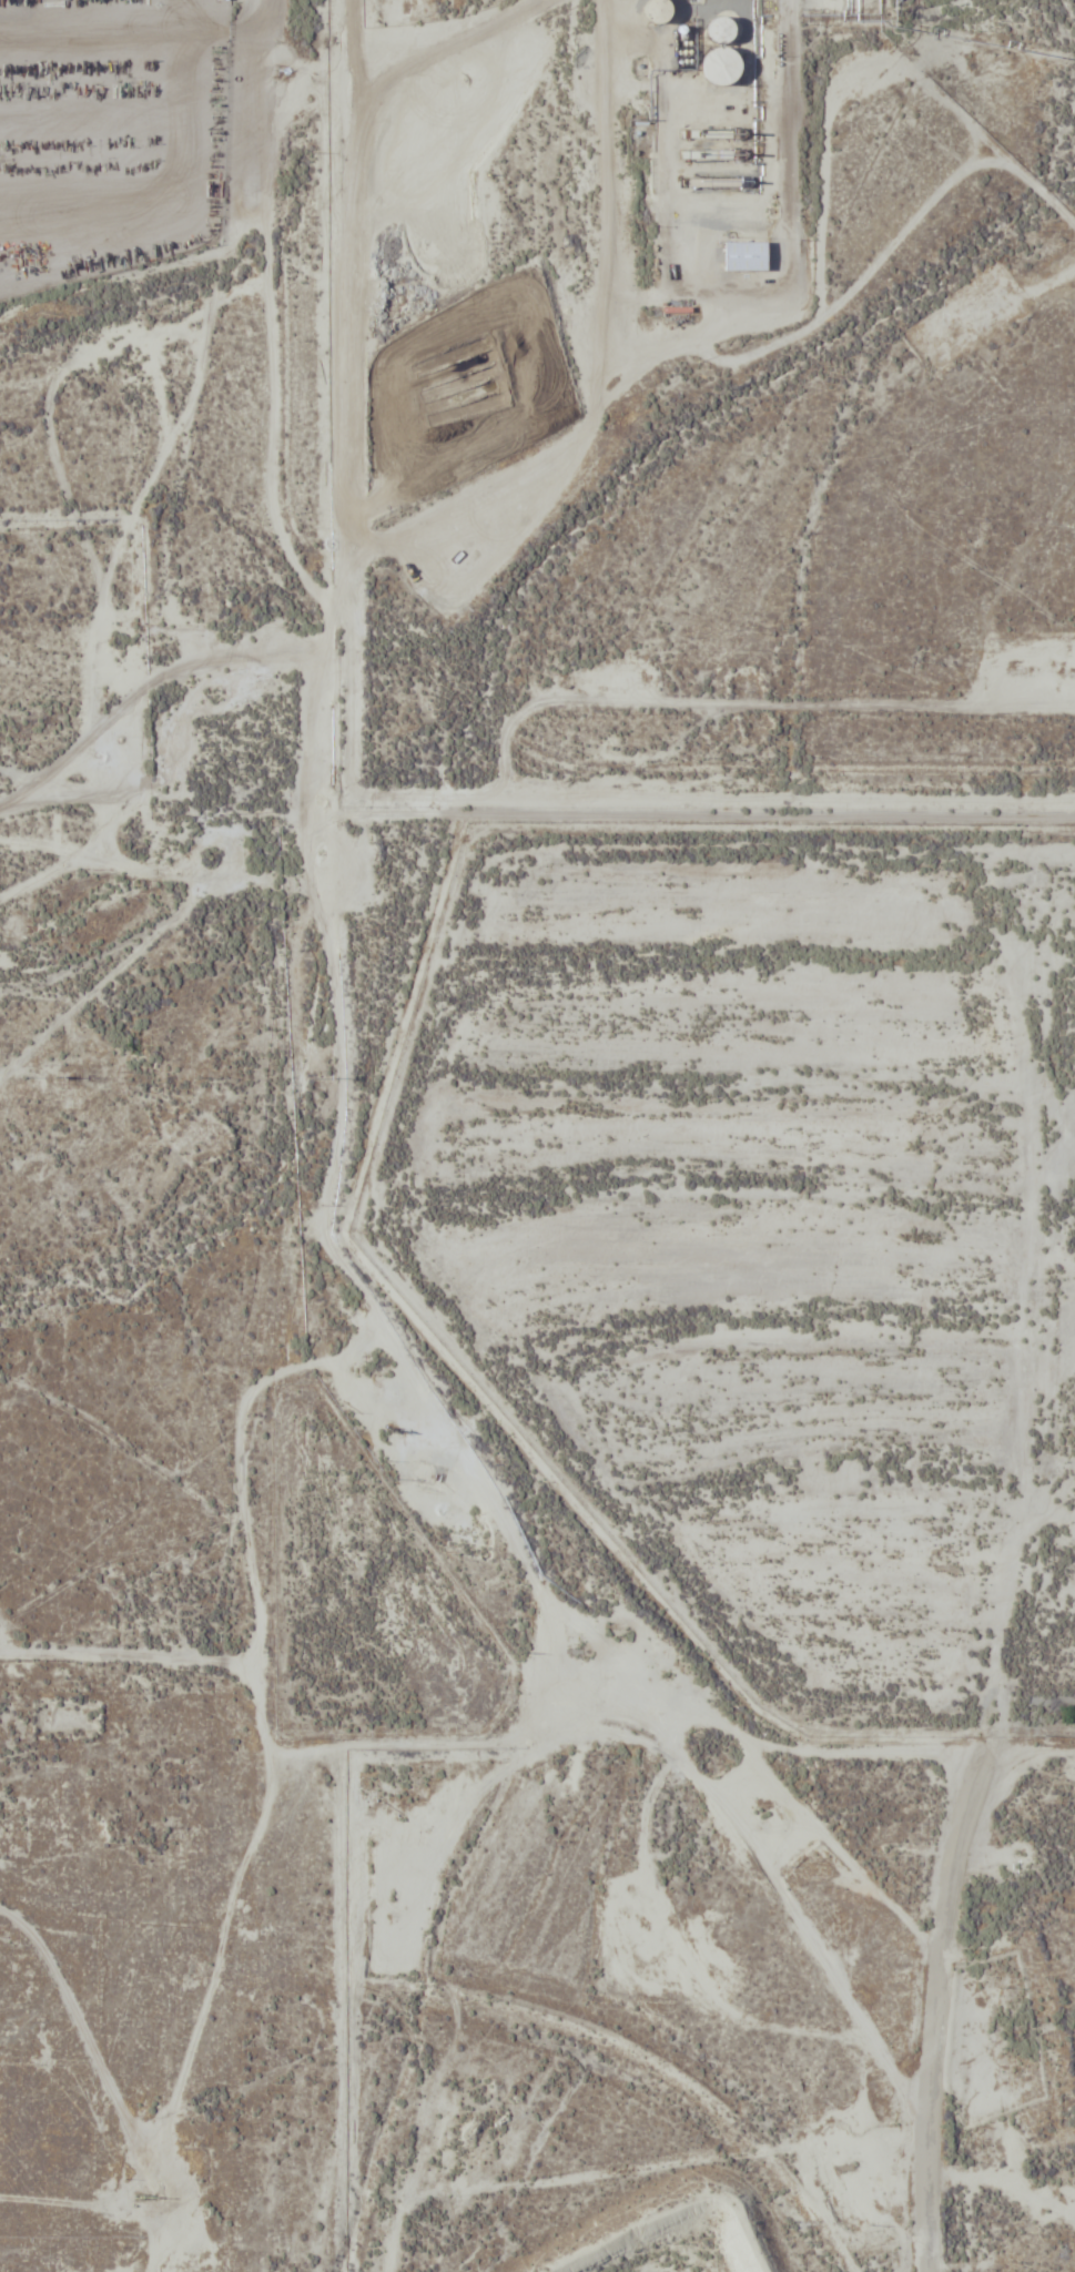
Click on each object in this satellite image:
road: (183, 424)
road: (140, 805)
road: (483, 810)
road: (784, 1269)
road: (1054, 1276)
road: (6, 1630)
road: (508, 1739)
road: (793, 1913)
road: (939, 1982)
road: (49, 2264)

